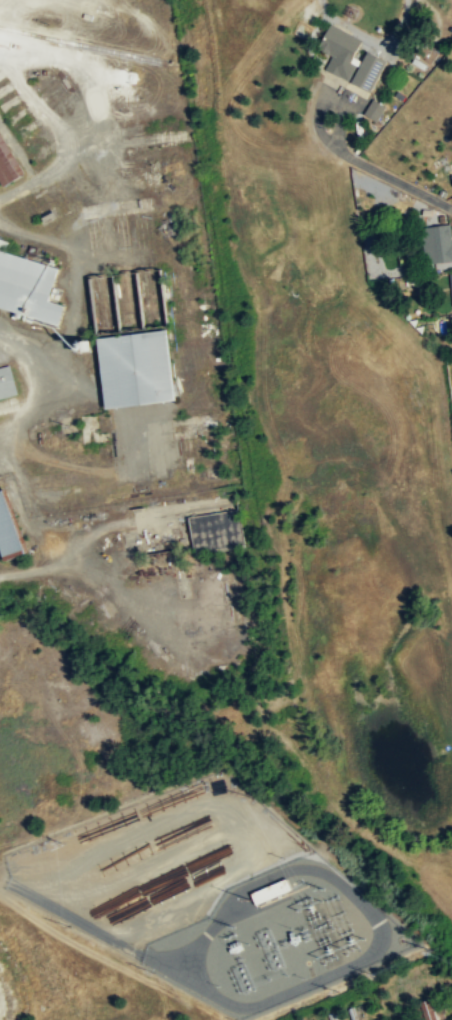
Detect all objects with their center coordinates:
railway: (79, 42)
building: (339, 49)
building: (368, 70)
building: (372, 109)
building: (8, 162)
building: (451, 177)
building: (2, 244)
building: (438, 247)
building: (395, 268)
building: (451, 280)
building: (28, 286)
building: (137, 368)
building: (6, 383)
building: (217, 528)
building: (9, 530)
building: (277, 888)
road: (376, 917)
road: (84, 923)
quarry: (12, 926)
power substation: (278, 938)
road: (92, 951)
building: (428, 1010)

